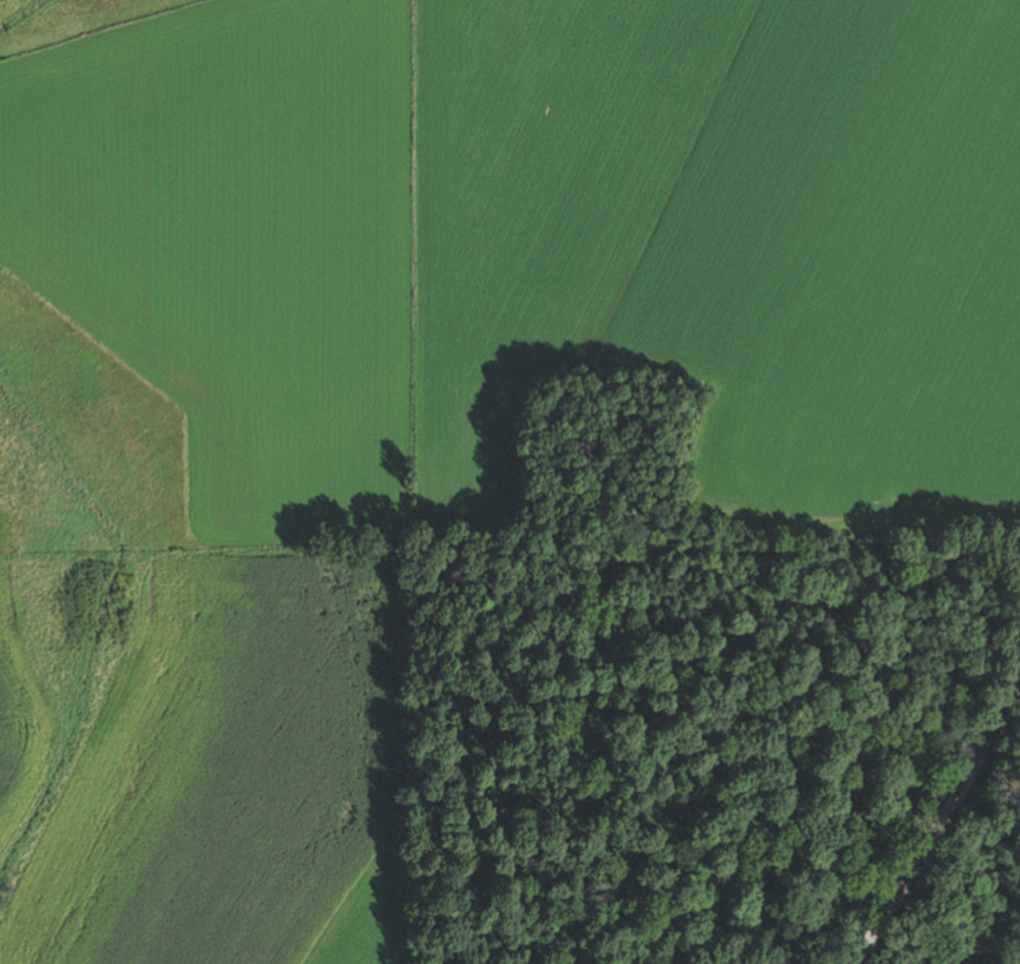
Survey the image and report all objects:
road: (941, 826)

